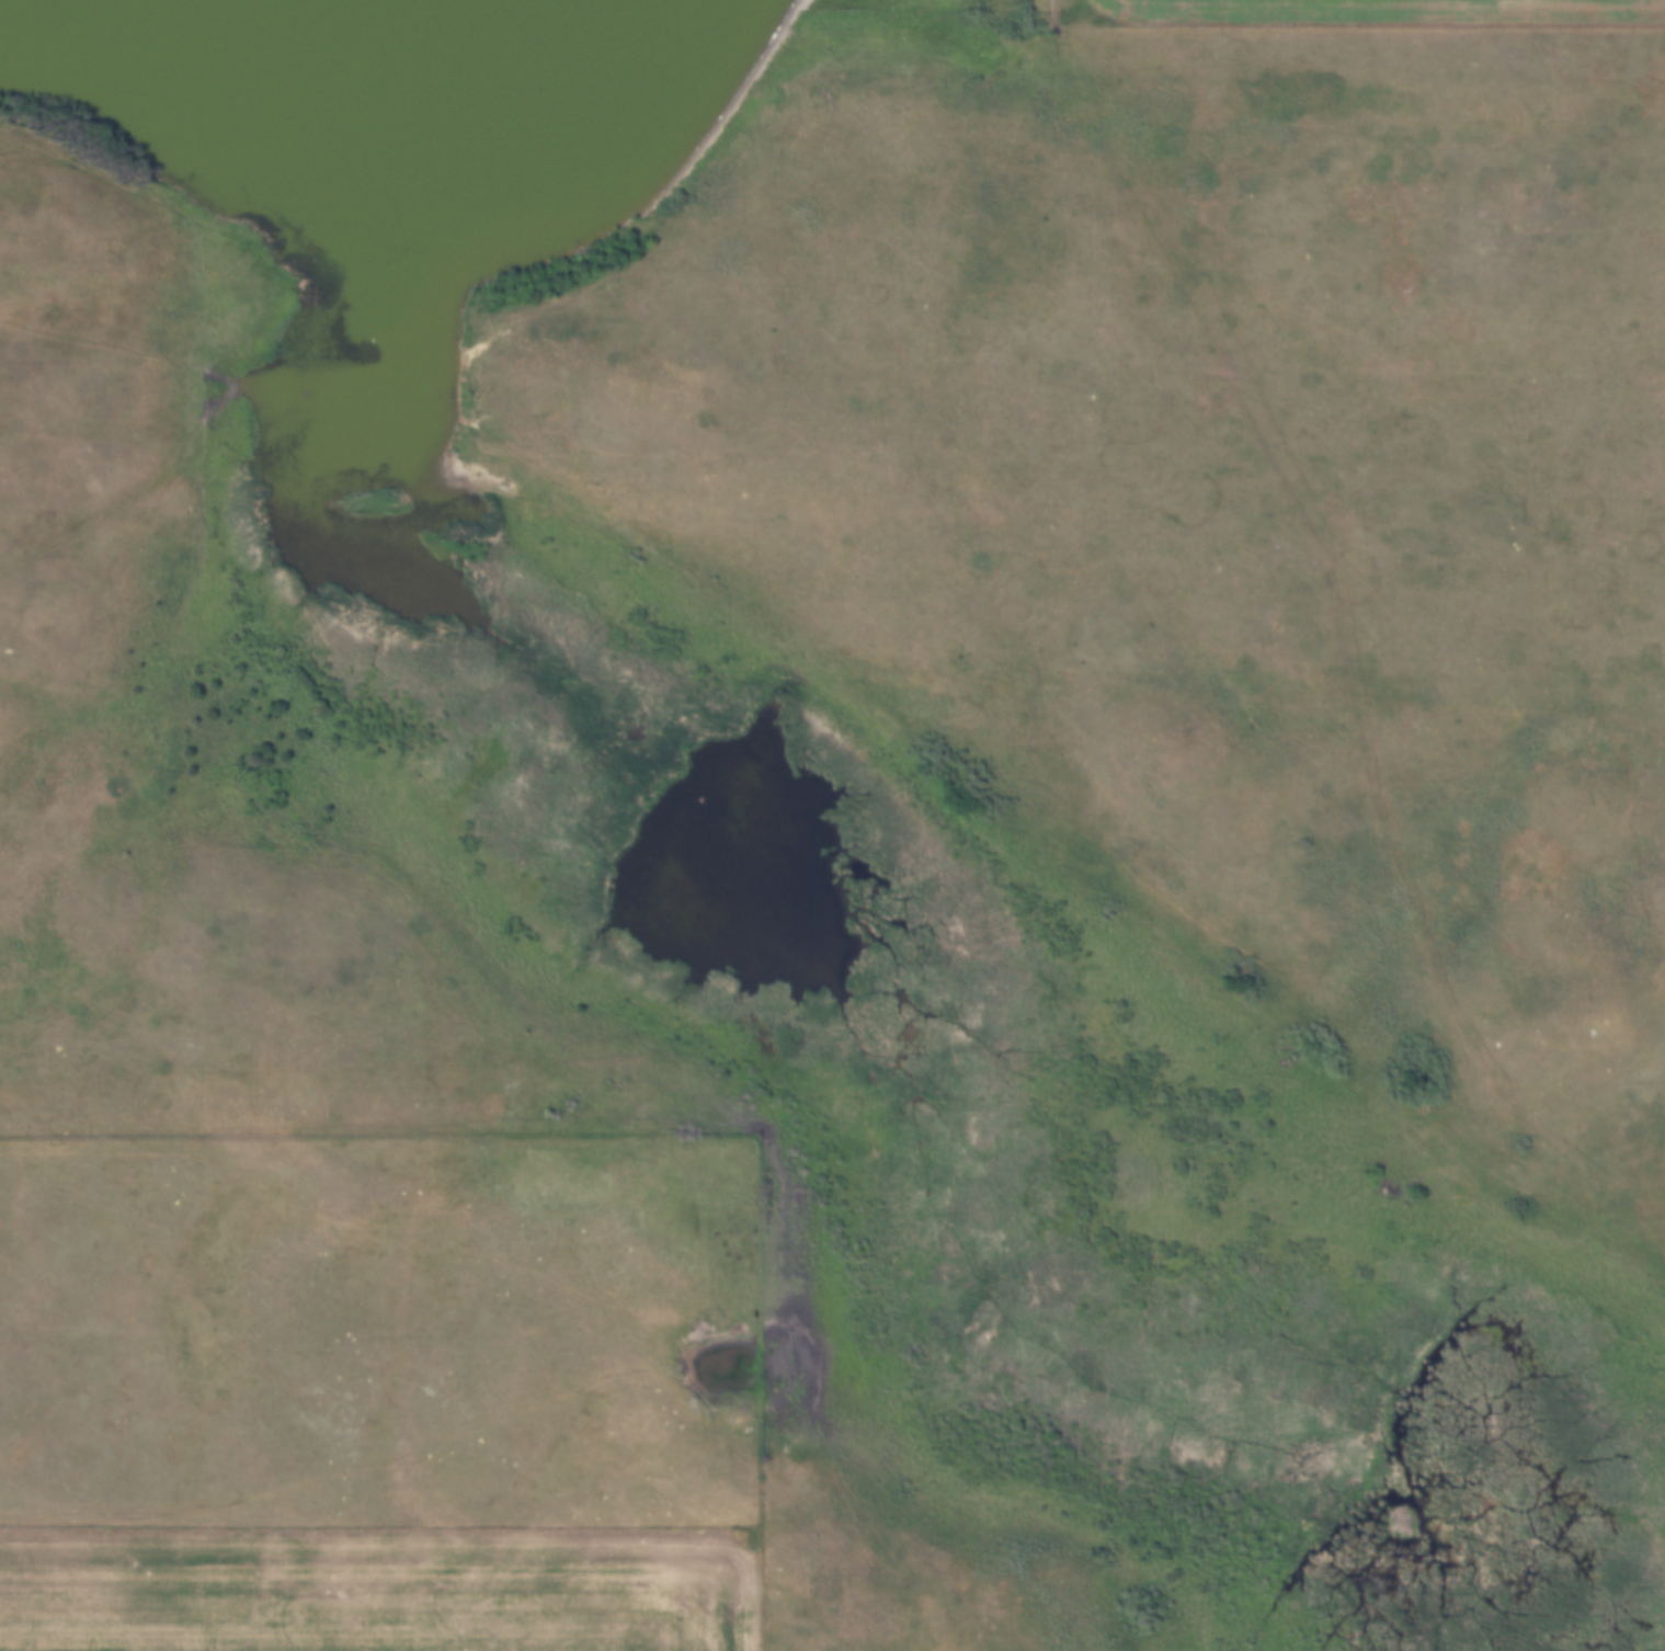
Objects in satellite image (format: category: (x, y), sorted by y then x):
road: (1345, 26)

